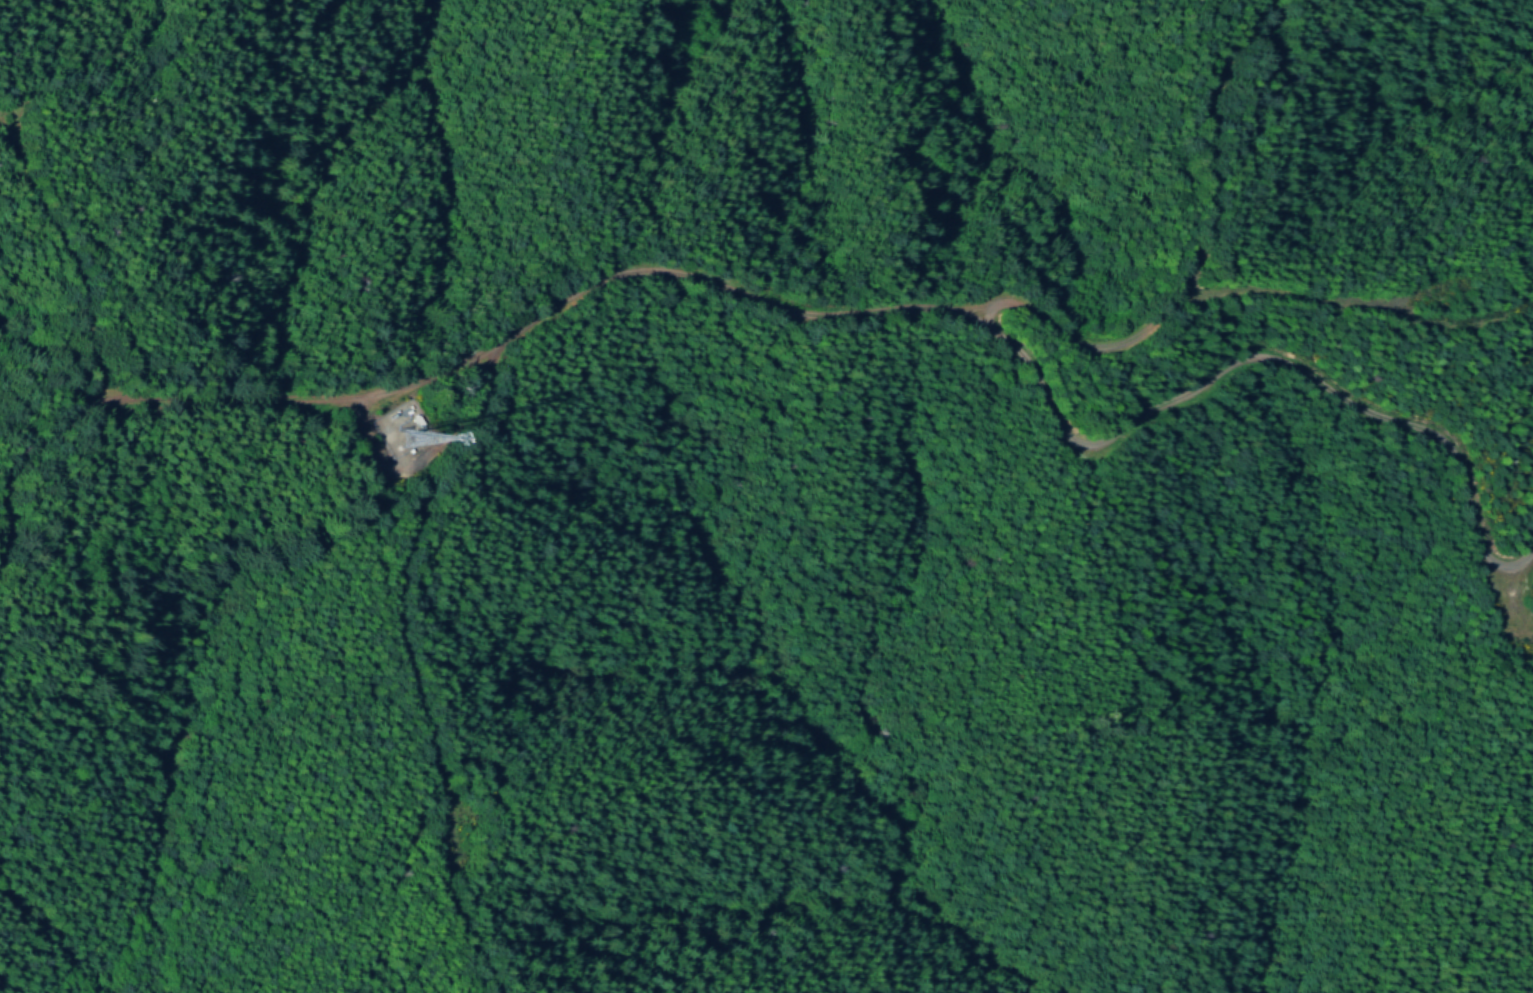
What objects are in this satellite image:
road: (1189, 265)
road: (1357, 303)
road: (855, 317)

